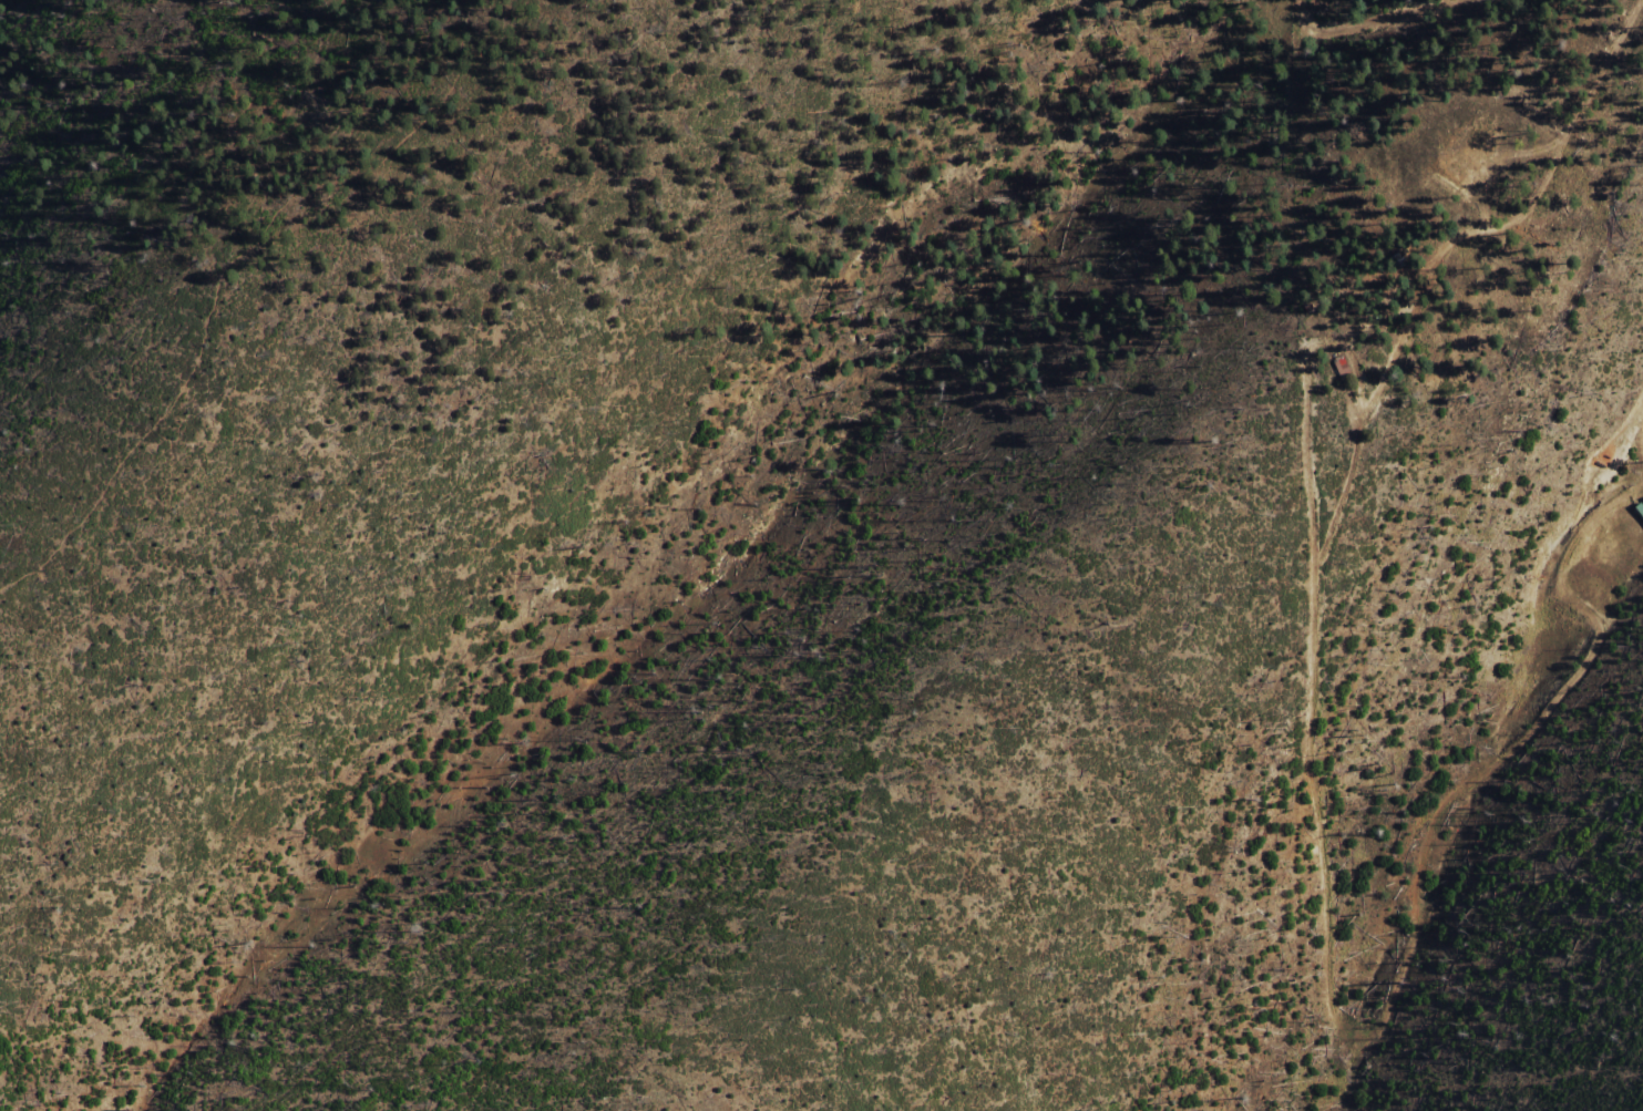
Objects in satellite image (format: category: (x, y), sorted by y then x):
road: (1364, 17)
road: (1641, 432)
road: (1642, 477)
road: (1298, 724)

